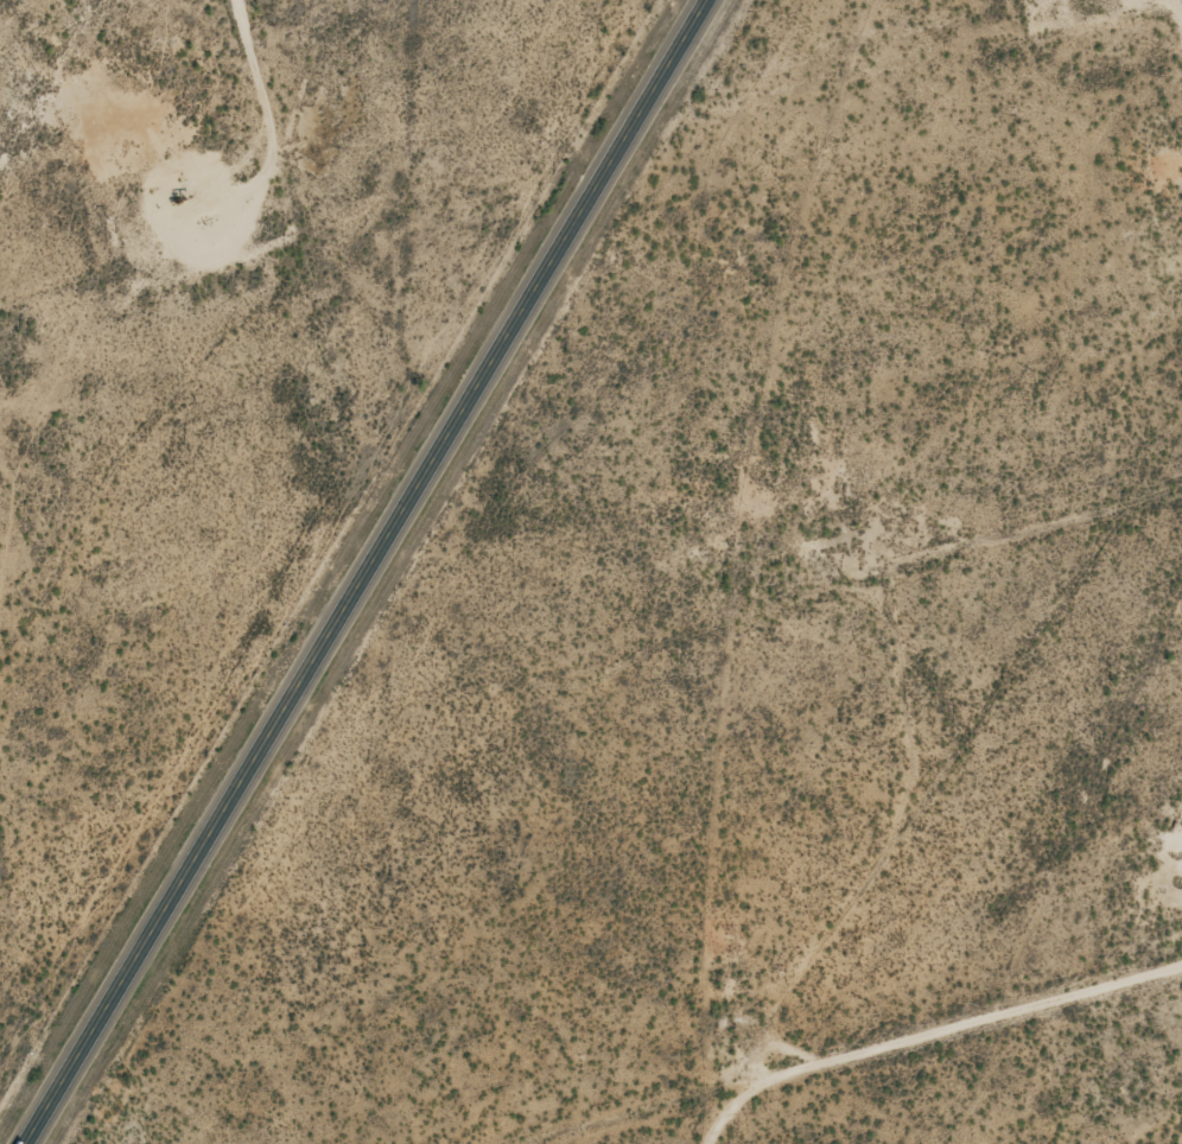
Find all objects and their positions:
road: (221, 180)
road: (371, 572)
road: (907, 1070)

